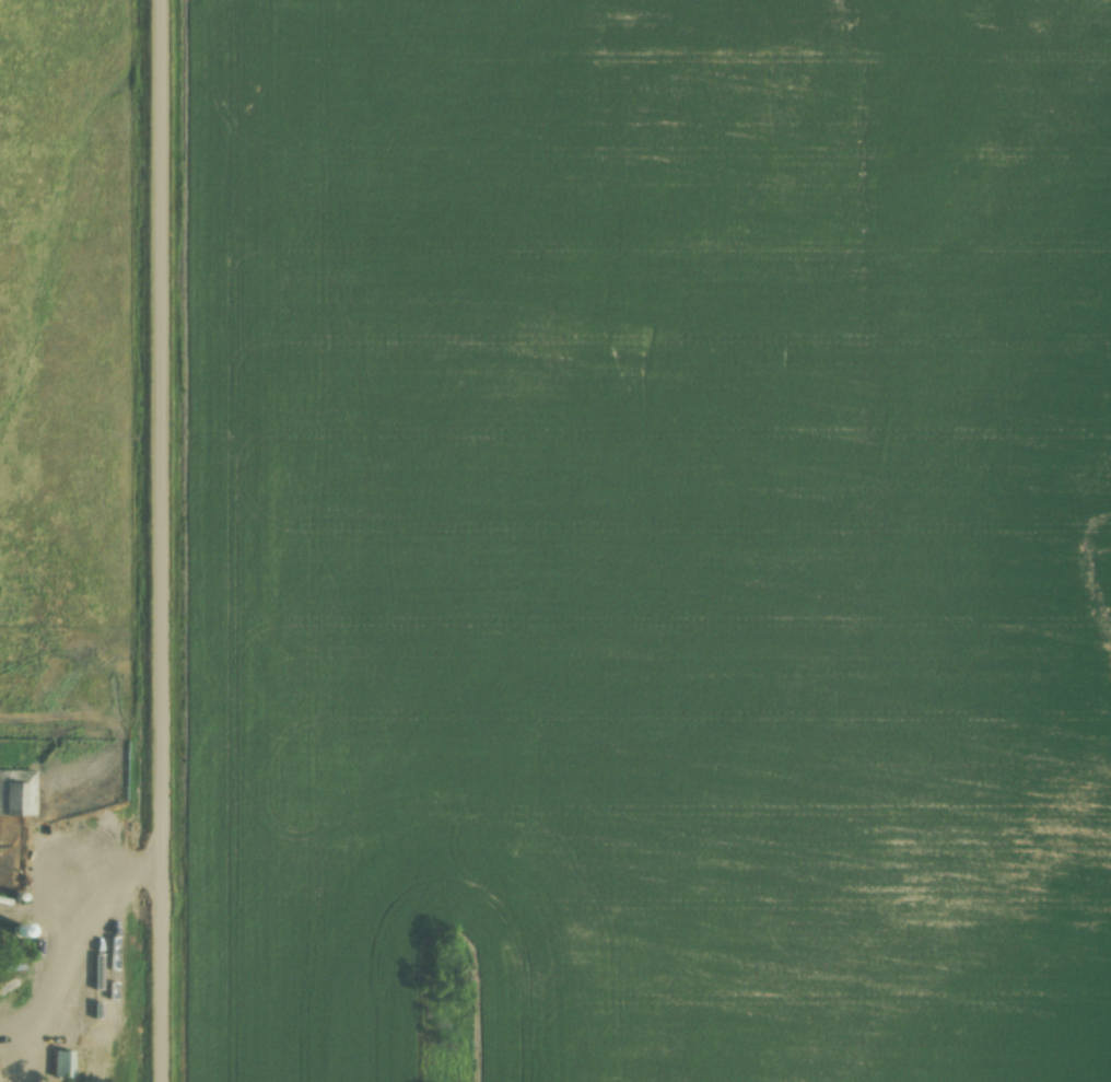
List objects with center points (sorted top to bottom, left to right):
road: (156, 540)

